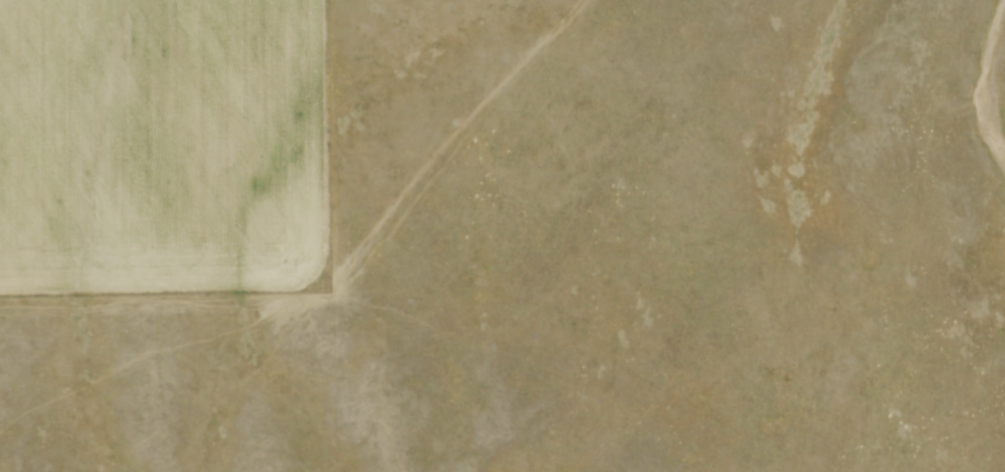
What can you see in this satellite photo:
crop: (160, 145)

